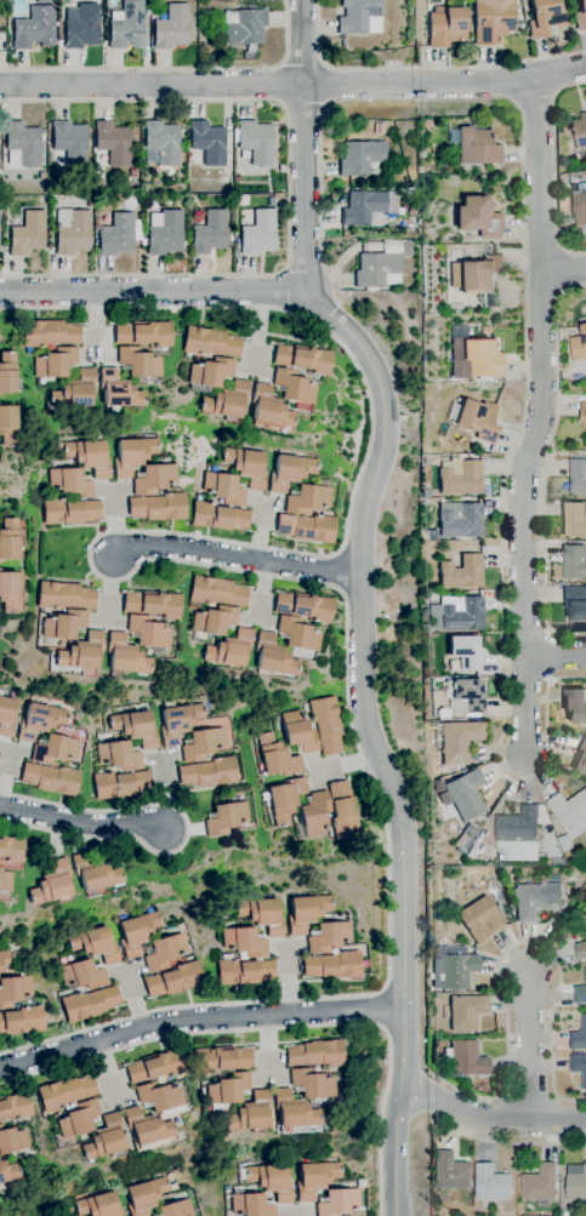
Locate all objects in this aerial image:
building: (96, 0)
building: (358, 16)
building: (580, 16)
building: (545, 17)
building: (493, 19)
building: (81, 25)
building: (126, 25)
building: (446, 25)
building: (243, 27)
building: (34, 28)
building: (171, 28)
building: (248, 55)
road: (301, 59)
road: (423, 65)
road: (172, 69)
road: (562, 70)
road: (269, 85)
road: (279, 85)
road: (332, 85)
road: (499, 98)
road: (303, 107)
building: (377, 127)
building: (581, 133)
building: (256, 141)
building: (70, 142)
building: (113, 142)
building: (207, 142)
building: (161, 143)
building: (22, 144)
road: (303, 144)
building: (477, 144)
building: (245, 153)
building: (360, 156)
road: (556, 167)
building: (98, 169)
building: (132, 172)
building: (42, 176)
building: (178, 179)
building: (224, 181)
road: (289, 188)
building: (579, 204)
building: (364, 209)
building: (479, 217)
building: (72, 232)
building: (164, 233)
building: (209, 233)
building: (258, 233)
building: (27, 234)
building: (119, 234)
building: (142, 242)
building: (381, 264)
road: (563, 272)
building: (478, 279)
road: (153, 290)
building: (50, 333)
building: (143, 333)
building: (210, 342)
building: (579, 343)
building: (479, 356)
building: (303, 359)
building: (56, 362)
building: (138, 362)
building: (211, 371)
building: (7, 372)
building: (294, 386)
building: (75, 390)
building: (118, 390)
building: (226, 400)
building: (269, 409)
building: (582, 411)
road: (539, 415)
building: (476, 418)
building: (7, 427)
building: (132, 455)
building: (89, 456)
building: (248, 466)
road: (545, 468)
building: (290, 472)
building: (578, 473)
building: (461, 476)
building: (154, 479)
building: (70, 483)
building: (223, 489)
building: (307, 499)
building: (158, 507)
building: (70, 510)
building: (217, 516)
building: (461, 519)
building: (573, 519)
building: (306, 527)
building: (11, 538)
road: (241, 556)
building: (574, 560)
road: (184, 563)
building: (463, 572)
building: (8, 592)
building: (217, 592)
building: (64, 595)
building: (575, 601)
building: (153, 604)
building: (303, 606)
building: (462, 613)
building: (215, 620)
building: (64, 624)
building: (148, 632)
building: (297, 633)
building: (229, 649)
building: (83, 652)
building: (466, 652)
road: (556, 655)
building: (126, 656)
building: (273, 656)
road: (550, 656)
building: (454, 664)
building: (467, 696)
building: (575, 703)
road: (503, 710)
building: (6, 717)
building: (40, 720)
building: (178, 721)
building: (326, 724)
building: (136, 727)
building: (298, 732)
road: (371, 740)
building: (457, 740)
building: (201, 744)
building: (55, 749)
building: (119, 755)
building: (278, 757)
building: (581, 757)
building: (207, 772)
building: (51, 778)
building: (121, 784)
building: (463, 794)
building: (285, 799)
building: (343, 811)
building: (570, 811)
building: (314, 816)
building: (224, 818)
road: (80, 823)
building: (520, 823)
road: (187, 832)
building: (564, 841)
building: (462, 843)
building: (11, 849)
building: (95, 873)
building: (5, 881)
building: (52, 884)
building: (4, 895)
building: (536, 898)
building: (307, 912)
building: (263, 914)
building: (482, 919)
building: (584, 927)
building: (138, 932)
building: (328, 937)
building: (245, 942)
building: (96, 943)
building: (164, 952)
road: (506, 952)
building: (6, 959)
building: (332, 965)
building: (453, 967)
building: (245, 971)
building: (84, 975)
building: (175, 980)
building: (15, 989)
building: (580, 991)
building: (90, 1003)
building: (467, 1012)
road: (199, 1020)
building: (22, 1021)
road: (283, 1029)
building: (579, 1035)
road: (529, 1045)
building: (315, 1054)
building: (221, 1058)
building: (466, 1058)
building: (155, 1066)
building: (579, 1066)
building: (312, 1083)
building: (228, 1089)
building: (66, 1092)
building: (159, 1096)
building: (15, 1107)
building: (294, 1111)
building: (250, 1113)
road: (491, 1118)
building: (79, 1119)
building: (147, 1126)
building: (104, 1138)
building: (12, 1140)
road: (507, 1142)
building: (8, 1171)
building: (450, 1171)
building: (315, 1178)
building: (271, 1181)
building: (576, 1181)
building: (491, 1182)
building: (540, 1182)
building: (0, 1187)
building: (146, 1195)
building: (338, 1201)
building: (251, 1204)
building: (99, 1205)
building: (176, 1209)
building: (563, 1214)

